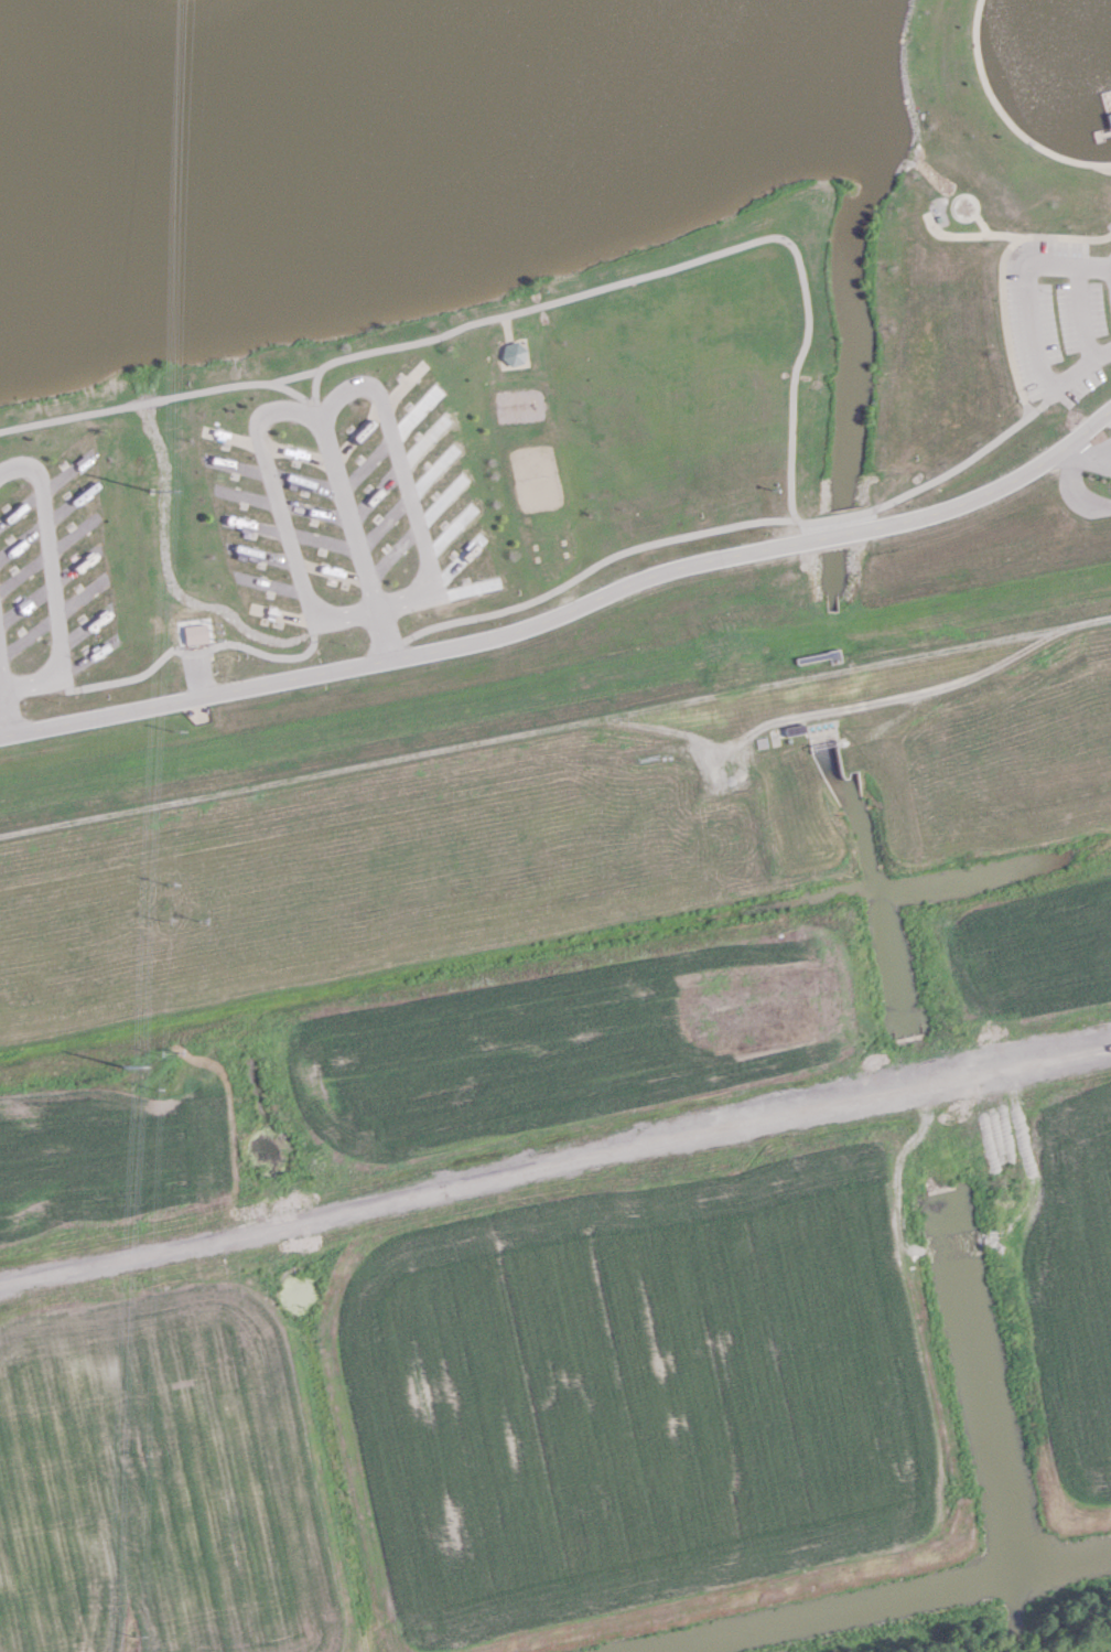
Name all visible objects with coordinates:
pier: (1107, 101)
road: (1004, 114)
building: (1109, 116)
road: (1104, 131)
pier: (1101, 132)
road: (1085, 253)
road: (694, 259)
road: (1078, 314)
parking lot: (1061, 321)
road: (1028, 324)
building: (513, 351)
park: (527, 365)
road: (1013, 368)
road: (402, 385)
road: (291, 390)
road: (315, 395)
road: (159, 397)
road: (1043, 403)
road: (412, 412)
road: (357, 432)
road: (230, 436)
road: (420, 443)
road: (295, 451)
road: (1086, 457)
parking lot: (1100, 457)
road: (366, 461)
road: (236, 463)
road: (66, 472)
road: (431, 472)
road: (403, 475)
park: (533, 478)
road: (304, 479)
road: (1001, 484)
power tower: (151, 490)
road: (375, 491)
road: (246, 494)
road: (1071, 494)
road: (438, 502)
road: (68, 504)
road: (21, 505)
road: (313, 509)
road: (280, 511)
road: (348, 514)
road: (838, 514)
road: (384, 521)
road: (254, 524)
road: (73, 533)
road: (450, 533)
road: (838, 533)
road: (23, 537)
road: (322, 539)
road: (392, 550)
road: (260, 553)
road: (453, 564)
road: (76, 566)
road: (586, 568)
road: (24, 570)
road: (331, 570)
road: (52, 577)
road: (270, 582)
road: (459, 590)
road: (82, 594)
road: (26, 602)
road: (285, 613)
road: (83, 626)
road: (381, 631)
building: (194, 632)
road: (28, 635)
road: (195, 650)
road: (405, 653)
road: (85, 657)
parking lot: (195, 662)
road: (0, 682)
road: (0, 687)
road: (4, 710)
power tower: (122, 1065)
road: (555, 1166)

